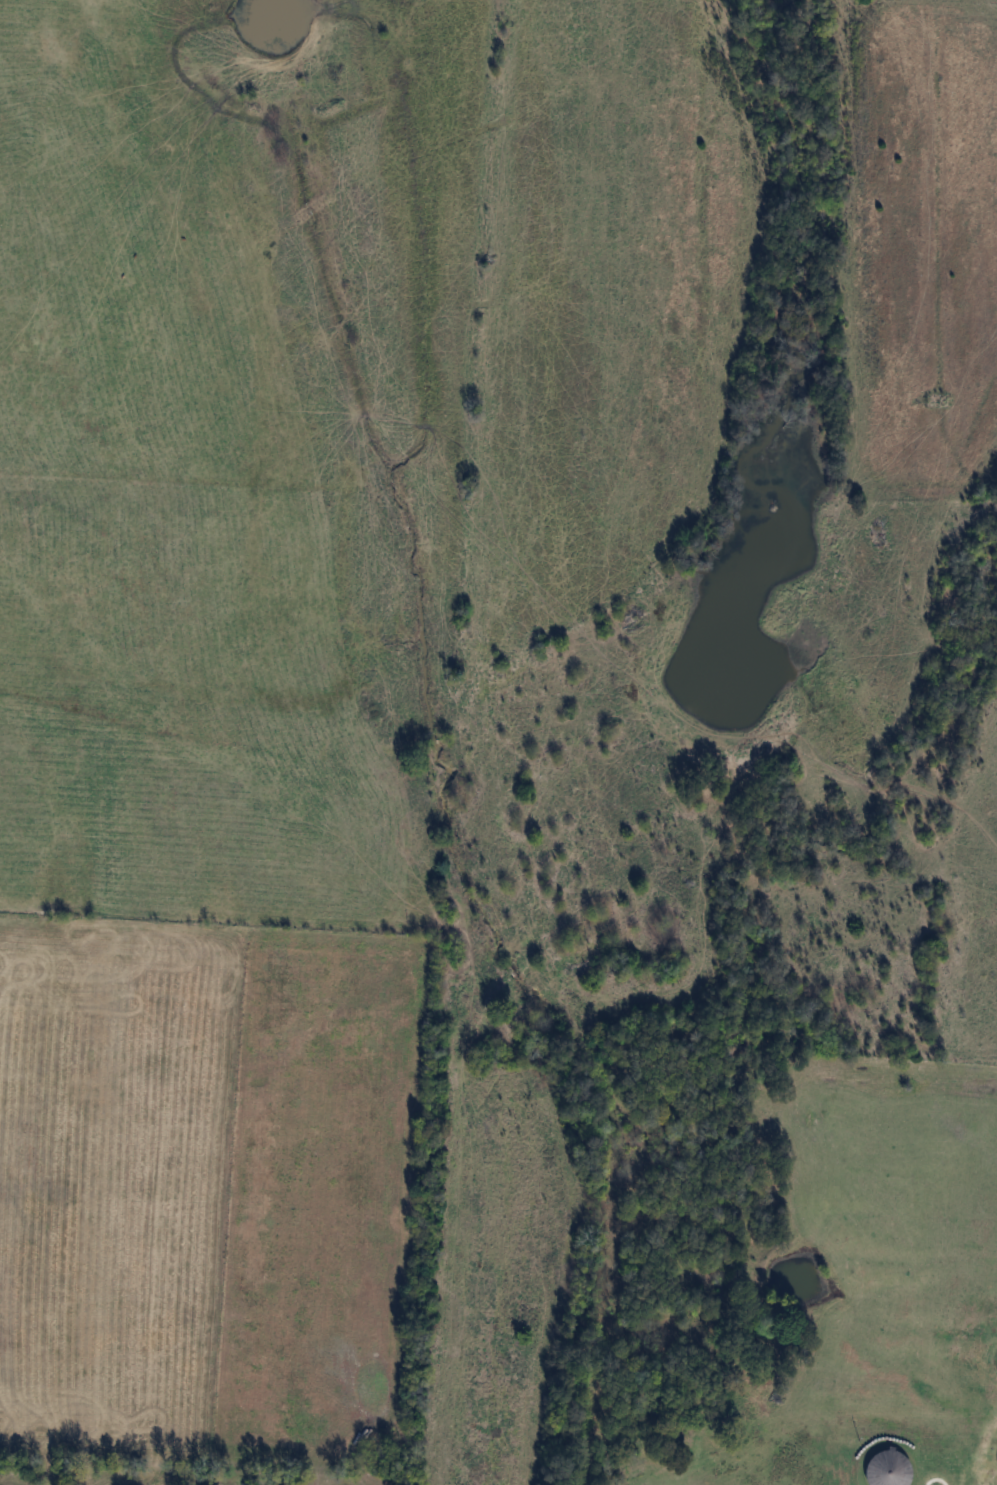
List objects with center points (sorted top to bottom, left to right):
building: (891, 1467)

